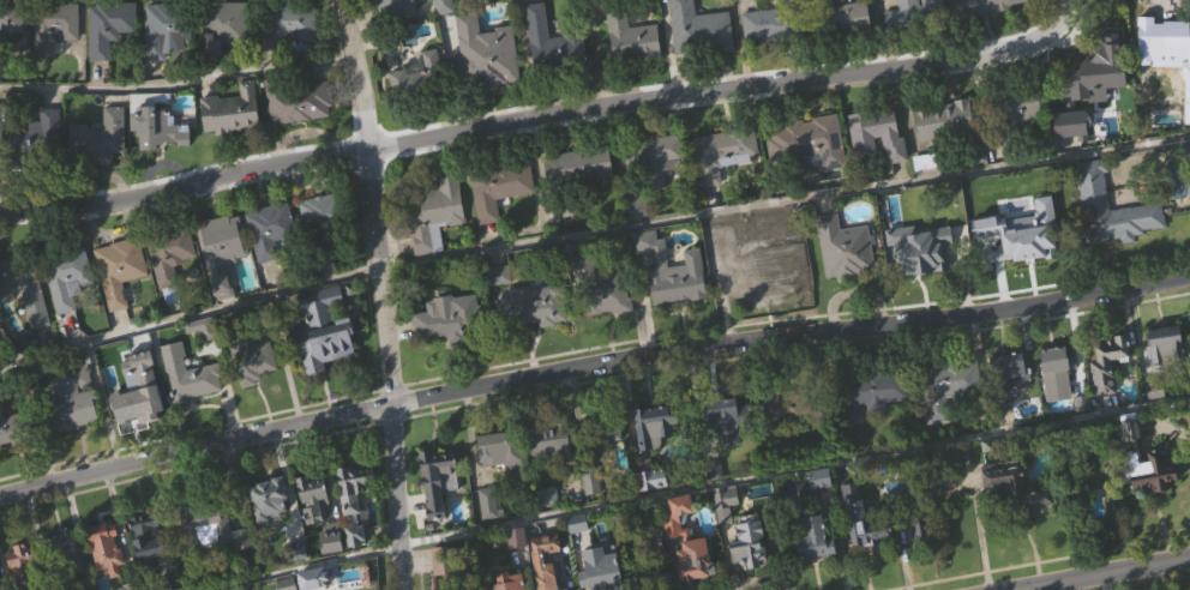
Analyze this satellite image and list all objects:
building: (932, 4)
building: (980, 6)
building: (393, 8)
building: (903, 14)
building: (843, 17)
building: (10, 18)
building: (286, 23)
building: (52, 24)
building: (107, 25)
building: (221, 25)
building: (763, 26)
building: (164, 28)
building: (396, 30)
building: (697, 30)
building: (991, 30)
building: (1166, 32)
building: (445, 35)
building: (630, 36)
building: (552, 44)
building: (846, 47)
building: (14, 53)
building: (290, 58)
building: (698, 58)
building: (770, 58)
building: (56, 59)
building: (227, 59)
building: (491, 59)
building: (110, 60)
building: (166, 64)
building: (633, 71)
building: (554, 74)
building: (1189, 74)
building: (1100, 78)
building: (403, 82)
road: (176, 88)
building: (295, 101)
building: (1101, 101)
building: (1014, 104)
building: (420, 108)
building: (1184, 108)
building: (229, 110)
building: (2, 113)
road: (546, 118)
building: (944, 120)
building: (158, 124)
building: (876, 133)
building: (301, 134)
building: (96, 139)
building: (815, 140)
building: (1021, 142)
building: (35, 143)
building: (235, 144)
building: (2, 151)
building: (721, 151)
building: (945, 153)
building: (1071, 156)
building: (655, 157)
building: (163, 159)
building: (878, 167)
building: (576, 170)
building: (36, 171)
building: (100, 171)
building: (810, 173)
building: (725, 186)
building: (497, 187)
building: (657, 192)
building: (1093, 195)
building: (577, 198)
road: (785, 199)
building: (636, 206)
building: (433, 215)
building: (1094, 215)
building: (1179, 216)
building: (320, 217)
building: (501, 221)
building: (268, 229)
building: (1026, 234)
building: (638, 239)
building: (919, 241)
building: (319, 243)
building: (438, 247)
building: (843, 247)
building: (220, 248)
building: (168, 253)
building: (272, 261)
building: (759, 266)
building: (118, 269)
building: (64, 273)
building: (675, 277)
building: (846, 281)
building: (922, 281)
building: (224, 284)
building: (597, 284)
building: (23, 287)
building: (173, 289)
road: (384, 294)
building: (762, 299)
building: (122, 302)
building: (673, 303)
building: (531, 305)
building: (68, 311)
road: (188, 317)
building: (447, 318)
building: (601, 319)
building: (26, 321)
building: (319, 329)
building: (535, 337)
building: (1165, 342)
road: (8, 345)
building: (451, 350)
building: (248, 356)
building: (1056, 359)
building: (206, 360)
building: (1107, 361)
building: (324, 362)
road: (590, 366)
building: (187, 374)
building: (1166, 374)
building: (1005, 377)
building: (946, 386)
building: (130, 389)
building: (256, 390)
building: (872, 390)
building: (1110, 396)
building: (72, 398)
building: (1009, 398)
building: (1057, 405)
building: (191, 407)
building: (783, 408)
building: (725, 416)
building: (133, 417)
building: (877, 422)
building: (945, 422)
building: (1156, 422)
building: (600, 427)
building: (12, 431)
building: (77, 432)
building: (650, 438)
building: (783, 439)
building: (1081, 440)
building: (548, 444)
building: (499, 450)
building: (725, 452)
building: (656, 457)
building: (10, 459)
building: (611, 462)
building: (1144, 462)
building: (433, 474)
building: (552, 474)
building: (503, 481)
building: (351, 487)
building: (1014, 488)
road: (704, 489)
building: (1147, 494)
building: (265, 498)
building: (311, 498)
building: (440, 511)
building: (654, 511)
building: (822, 511)
building: (863, 516)
building: (355, 519)
building: (1015, 519)
building: (208, 526)
building: (271, 530)
building: (738, 531)
building: (491, 535)
building: (810, 537)
building: (329, 538)
building: (685, 538)
building: (146, 541)
building: (104, 548)
building: (863, 549)
building: (673, 553)
building: (62, 559)
building: (543, 559)
building: (921, 561)
building: (216, 562)
building: (440, 564)
building: (20, 565)
building: (357, 567)
building: (600, 567)
building: (518, 568)
building: (332, 570)
building: (813, 570)
building: (647, 571)
building: (108, 573)
building: (750, 573)
road: (1105, 574)
building: (506, 582)
building: (0, 589)
building: (563, 589)

